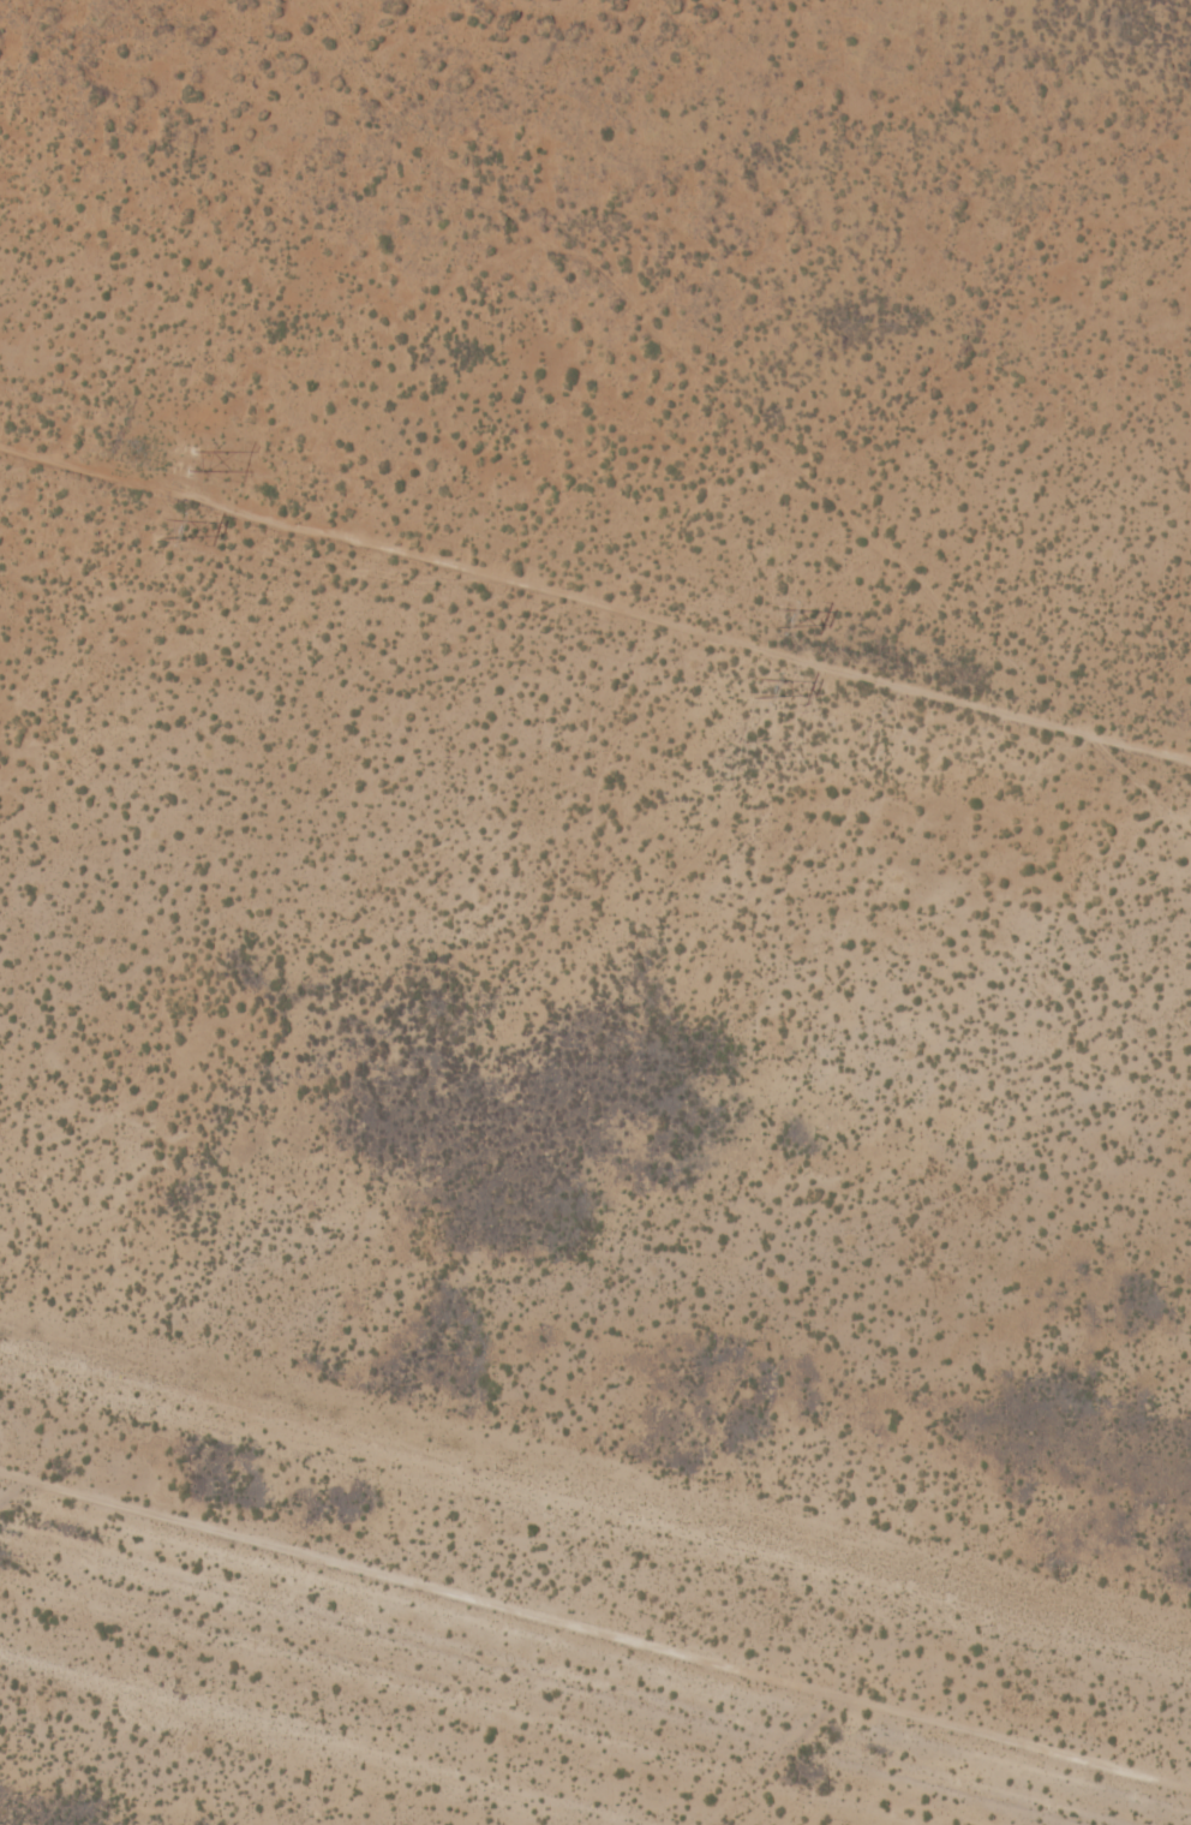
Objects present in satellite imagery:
power tower: (179, 457)
power tower: (161, 533)
road: (595, 591)
power tower: (773, 618)
power tower: (756, 686)
road: (594, 1628)

